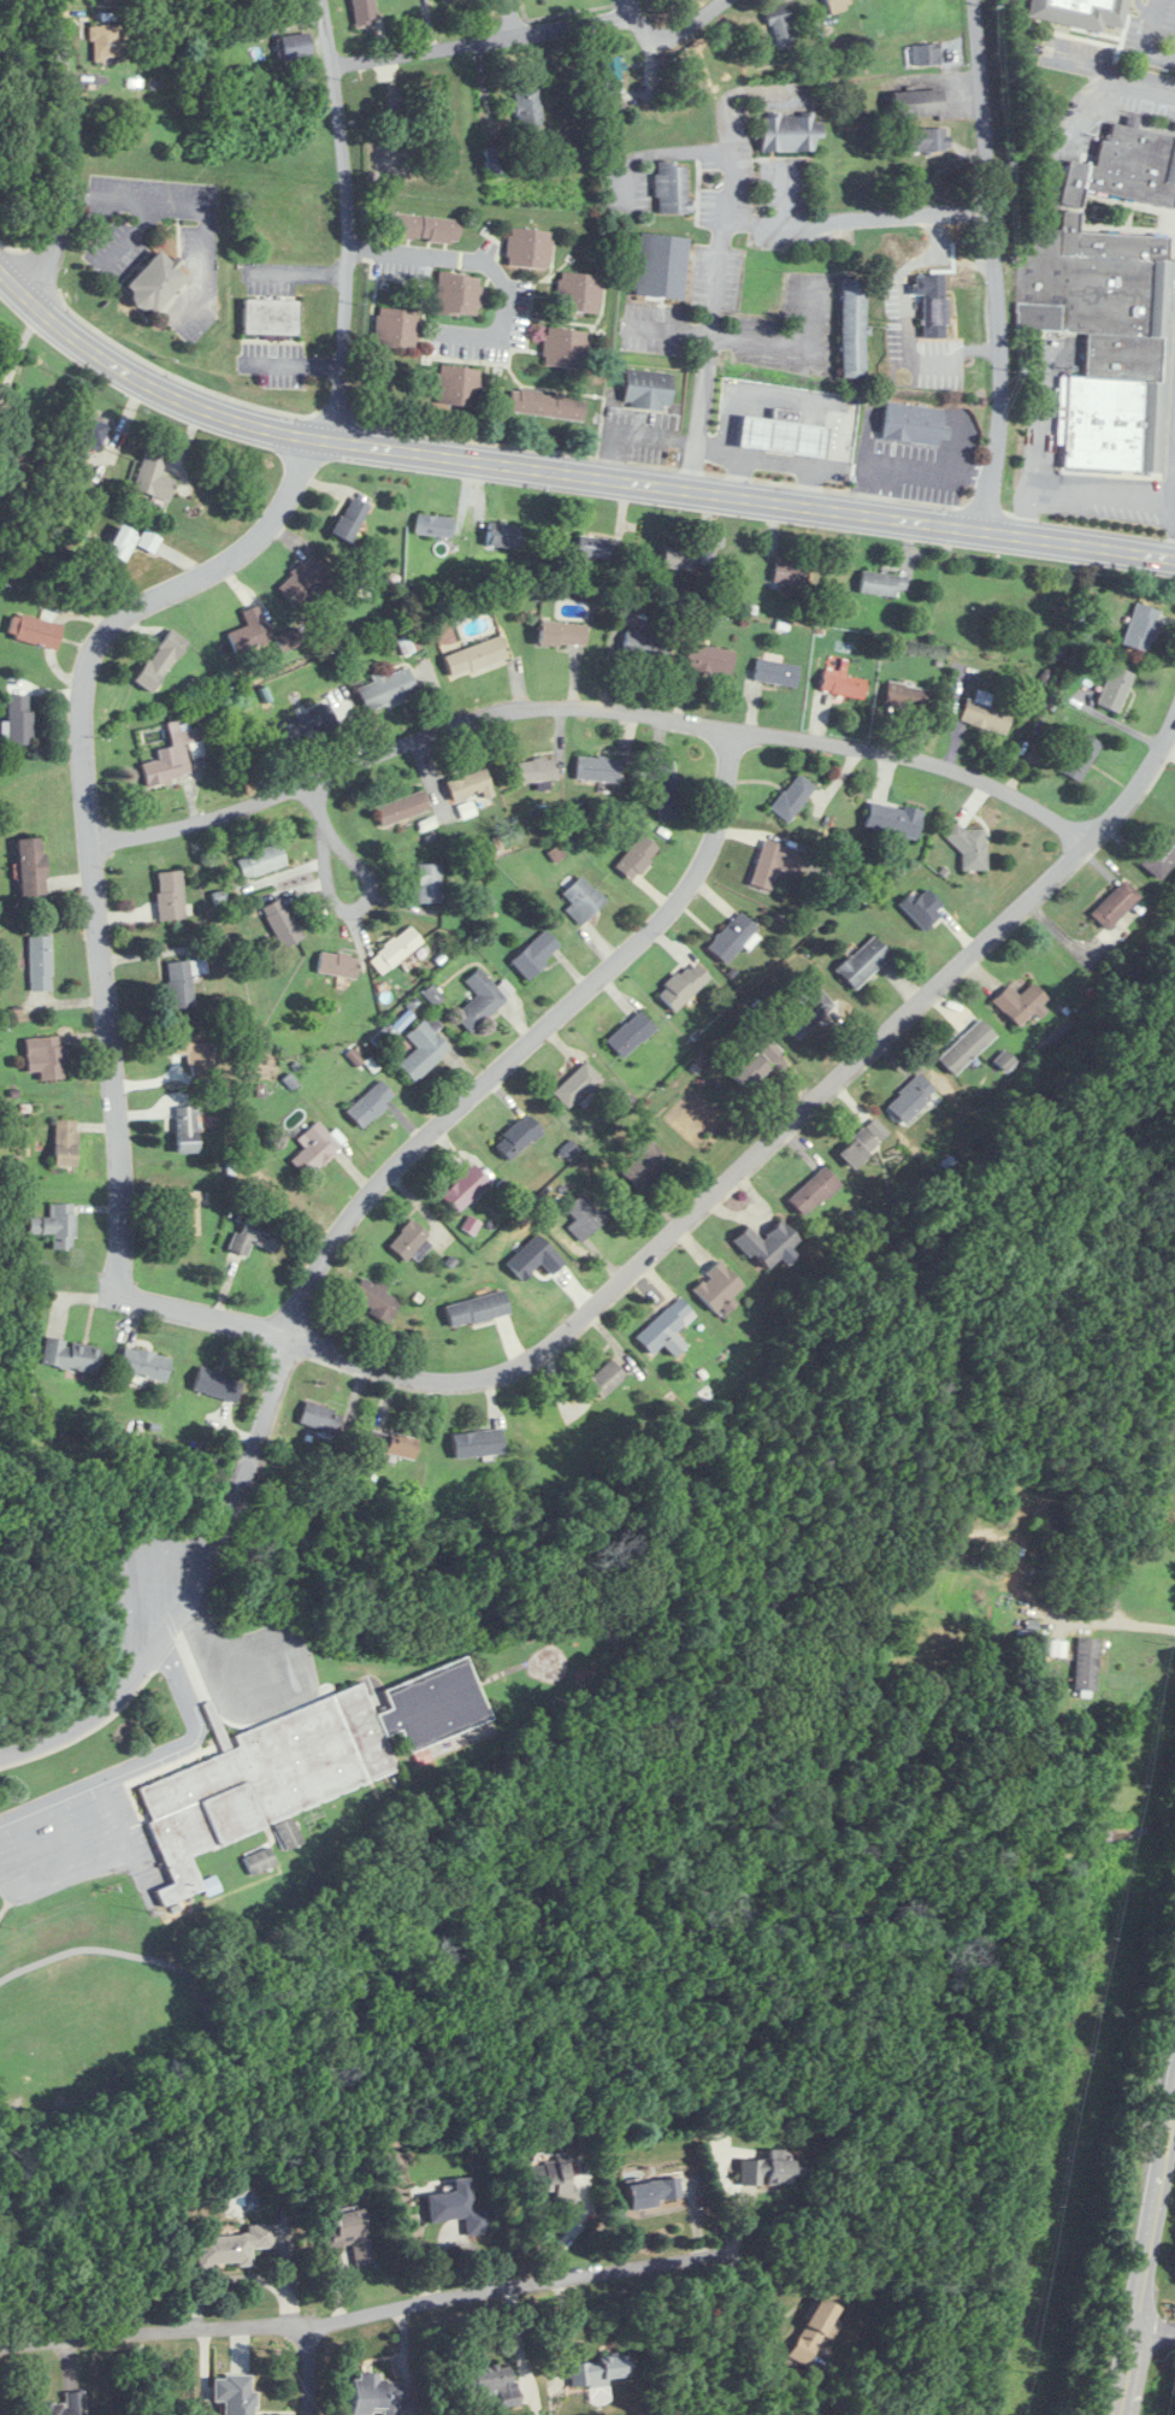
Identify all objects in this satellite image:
building: (838, 4)
road: (631, 7)
building: (365, 11)
building: (1081, 12)
road: (514, 18)
building: (780, 26)
road: (677, 31)
road: (1146, 37)
building: (104, 42)
road: (484, 42)
building: (295, 46)
building: (926, 55)
building: (610, 75)
building: (917, 104)
building: (527, 108)
building: (789, 132)
building: (929, 140)
road: (67, 153)
building: (498, 158)
building: (672, 187)
road: (130, 200)
road: (872, 213)
road: (347, 220)
building: (421, 228)
building: (529, 247)
road: (483, 264)
building: (661, 265)
road: (993, 267)
building: (157, 283)
building: (578, 291)
building: (457, 294)
building: (1108, 307)
building: (935, 311)
building: (272, 317)
building: (396, 328)
building: (854, 328)
building: (565, 347)
road: (18, 352)
road: (705, 371)
building: (457, 385)
building: (648, 389)
building: (549, 405)
building: (913, 424)
building: (90, 435)
building: (783, 435)
road: (565, 473)
building: (153, 476)
road: (1082, 493)
building: (350, 519)
building: (435, 525)
building: (503, 534)
building: (149, 541)
building: (122, 543)
building: (594, 547)
building: (680, 559)
building: (791, 573)
building: (305, 581)
building: (882, 583)
building: (1142, 628)
building: (250, 630)
building: (35, 631)
building: (562, 634)
building: (646, 644)
building: (477, 656)
building: (709, 659)
building: (161, 660)
building: (775, 671)
building: (843, 684)
building: (1115, 687)
building: (386, 689)
building: (909, 699)
road: (591, 705)
building: (985, 713)
building: (18, 719)
building: (308, 724)
building: (175, 756)
building: (1081, 758)
building: (537, 770)
building: (597, 770)
building: (470, 785)
building: (667, 789)
building: (793, 797)
building: (401, 808)
road: (91, 819)
building: (893, 819)
building: (972, 848)
building: (1159, 853)
building: (637, 858)
building: (261, 861)
building: (775, 862)
building: (33, 866)
building: (430, 883)
building: (170, 895)
building: (583, 900)
road: (336, 903)
building: (1115, 903)
building: (282, 923)
building: (732, 936)
building: (396, 949)
building: (536, 954)
building: (863, 961)
building: (40, 962)
building: (337, 964)
building: (182, 980)
building: (683, 984)
building: (480, 1000)
building: (1020, 1001)
building: (809, 1011)
building: (631, 1033)
road: (532, 1039)
building: (424, 1047)
building: (768, 1047)
building: (193, 1050)
building: (962, 1050)
building: (46, 1056)
building: (750, 1068)
building: (910, 1098)
building: (371, 1102)
building: (187, 1129)
building: (519, 1136)
building: (66, 1142)
building: (858, 1147)
building: (314, 1149)
building: (645, 1164)
building: (465, 1188)
building: (814, 1190)
building: (188, 1213)
building: (585, 1214)
building: (57, 1225)
road: (675, 1227)
building: (255, 1236)
building: (409, 1238)
building: (767, 1242)
building: (719, 1286)
building: (376, 1298)
building: (478, 1308)
building: (665, 1324)
building: (71, 1354)
building: (146, 1363)
building: (606, 1378)
building: (218, 1384)
building: (320, 1419)
building: (478, 1443)
building: (392, 1445)
road: (196, 1588)
road: (1121, 1620)
building: (1087, 1663)
road: (142, 1762)
building: (300, 1766)
building: (288, 1833)
building: (260, 1861)
road: (93, 1862)
building: (768, 2172)
building: (551, 2179)
building: (654, 2193)
building: (457, 2207)
building: (349, 2232)
building: (234, 2245)
road: (1144, 2258)
road: (385, 2313)
road: (1152, 2329)
building: (814, 2331)
road: (307, 2369)
building: (598, 2375)
building: (485, 2381)
building: (235, 2395)
building: (374, 2395)
building: (66, 2405)

